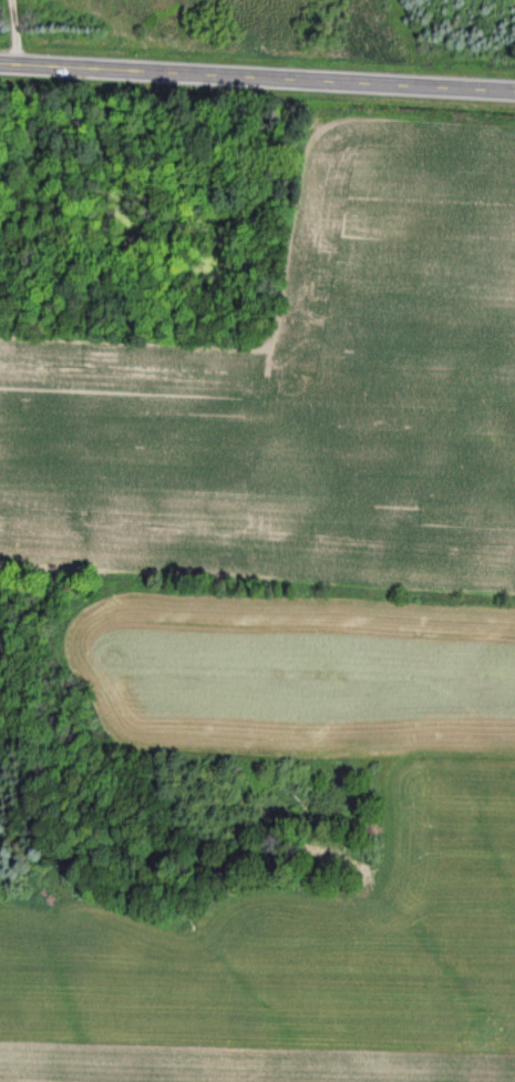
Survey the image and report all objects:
road: (257, 78)

